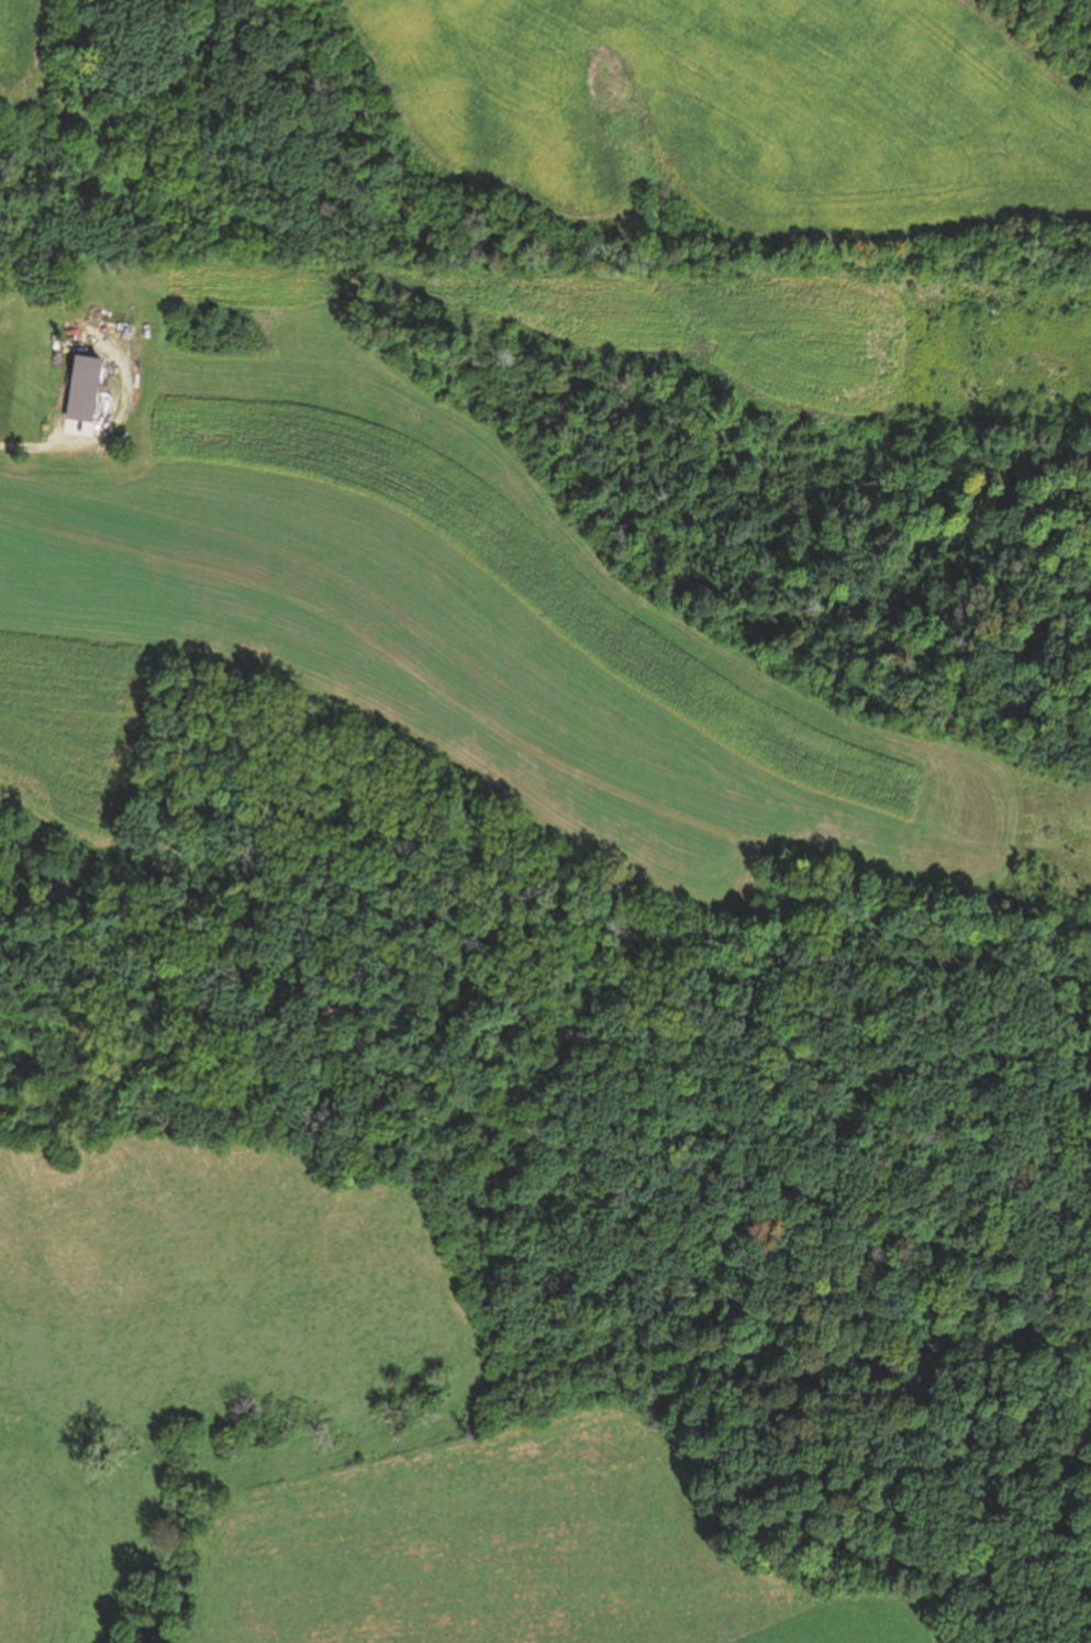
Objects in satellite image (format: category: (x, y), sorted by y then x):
building: (88, 391)
road: (102, 434)

